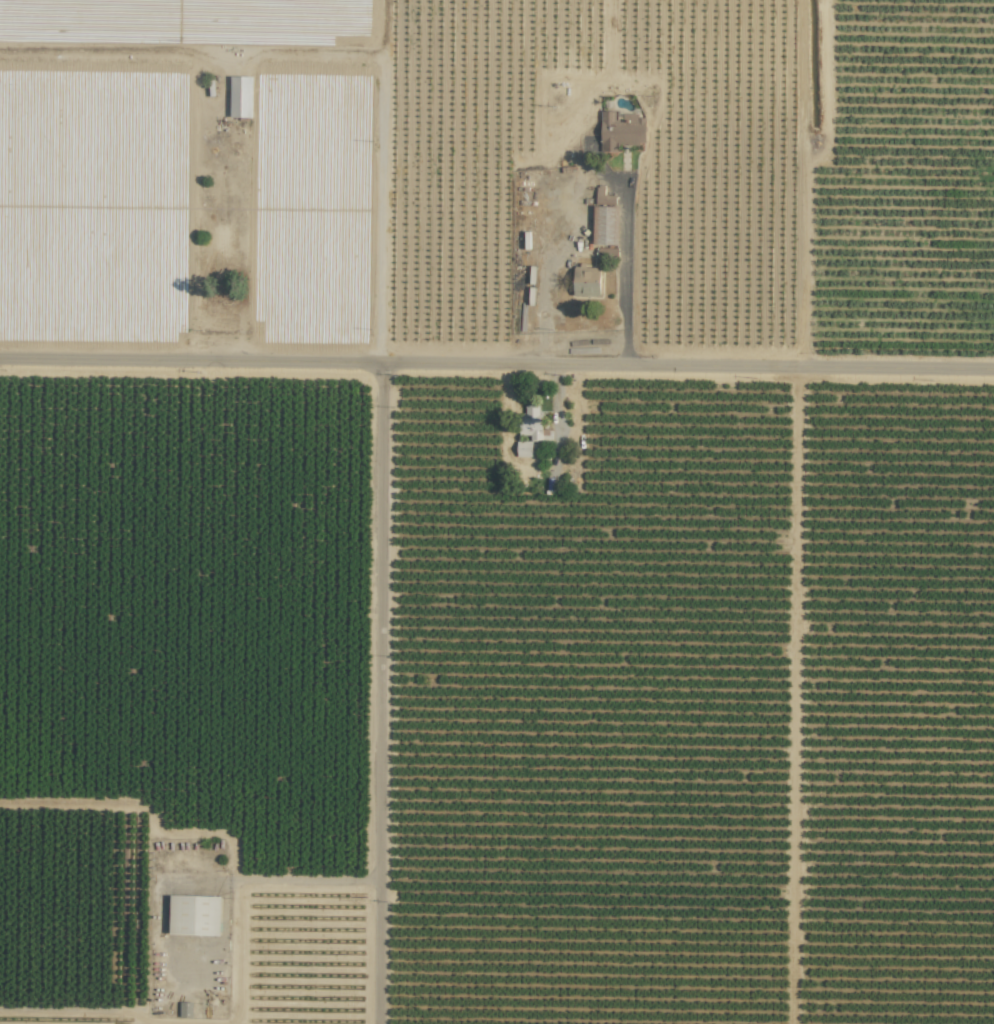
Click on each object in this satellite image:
building: (240, 96)
building: (620, 131)
road: (597, 180)
building: (603, 216)
building: (586, 281)
road: (497, 360)
building: (531, 422)
building: (523, 448)
road: (378, 692)
building: (195, 915)
building: (185, 1009)

